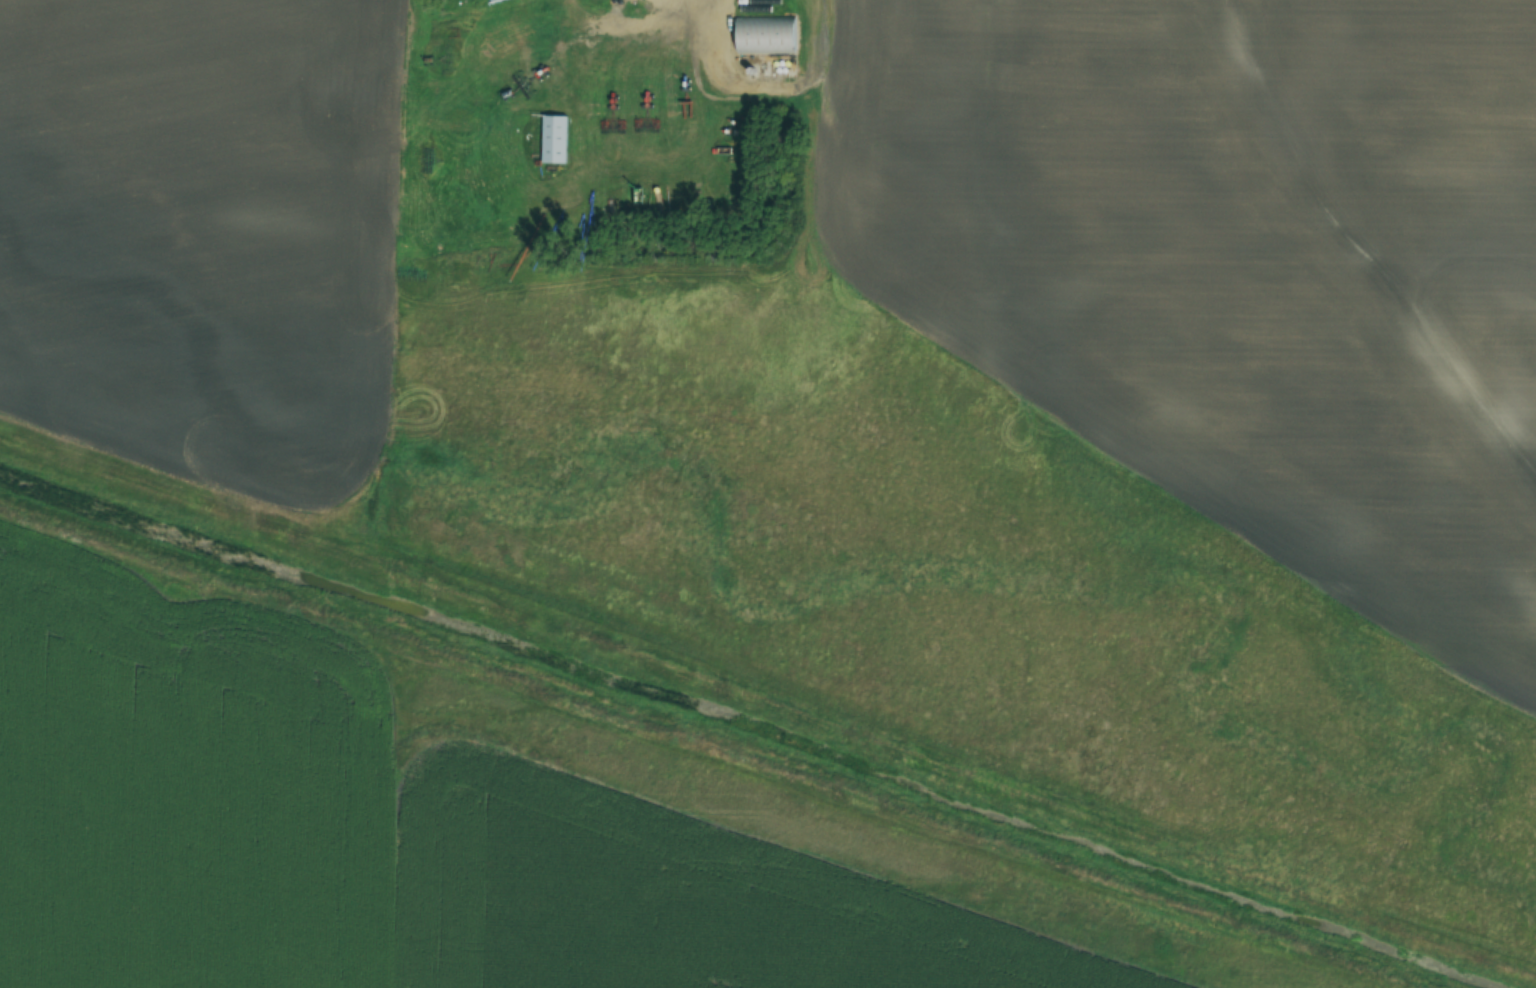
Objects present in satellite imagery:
building: (765, 35)
building: (554, 139)
river: (899, 583)

